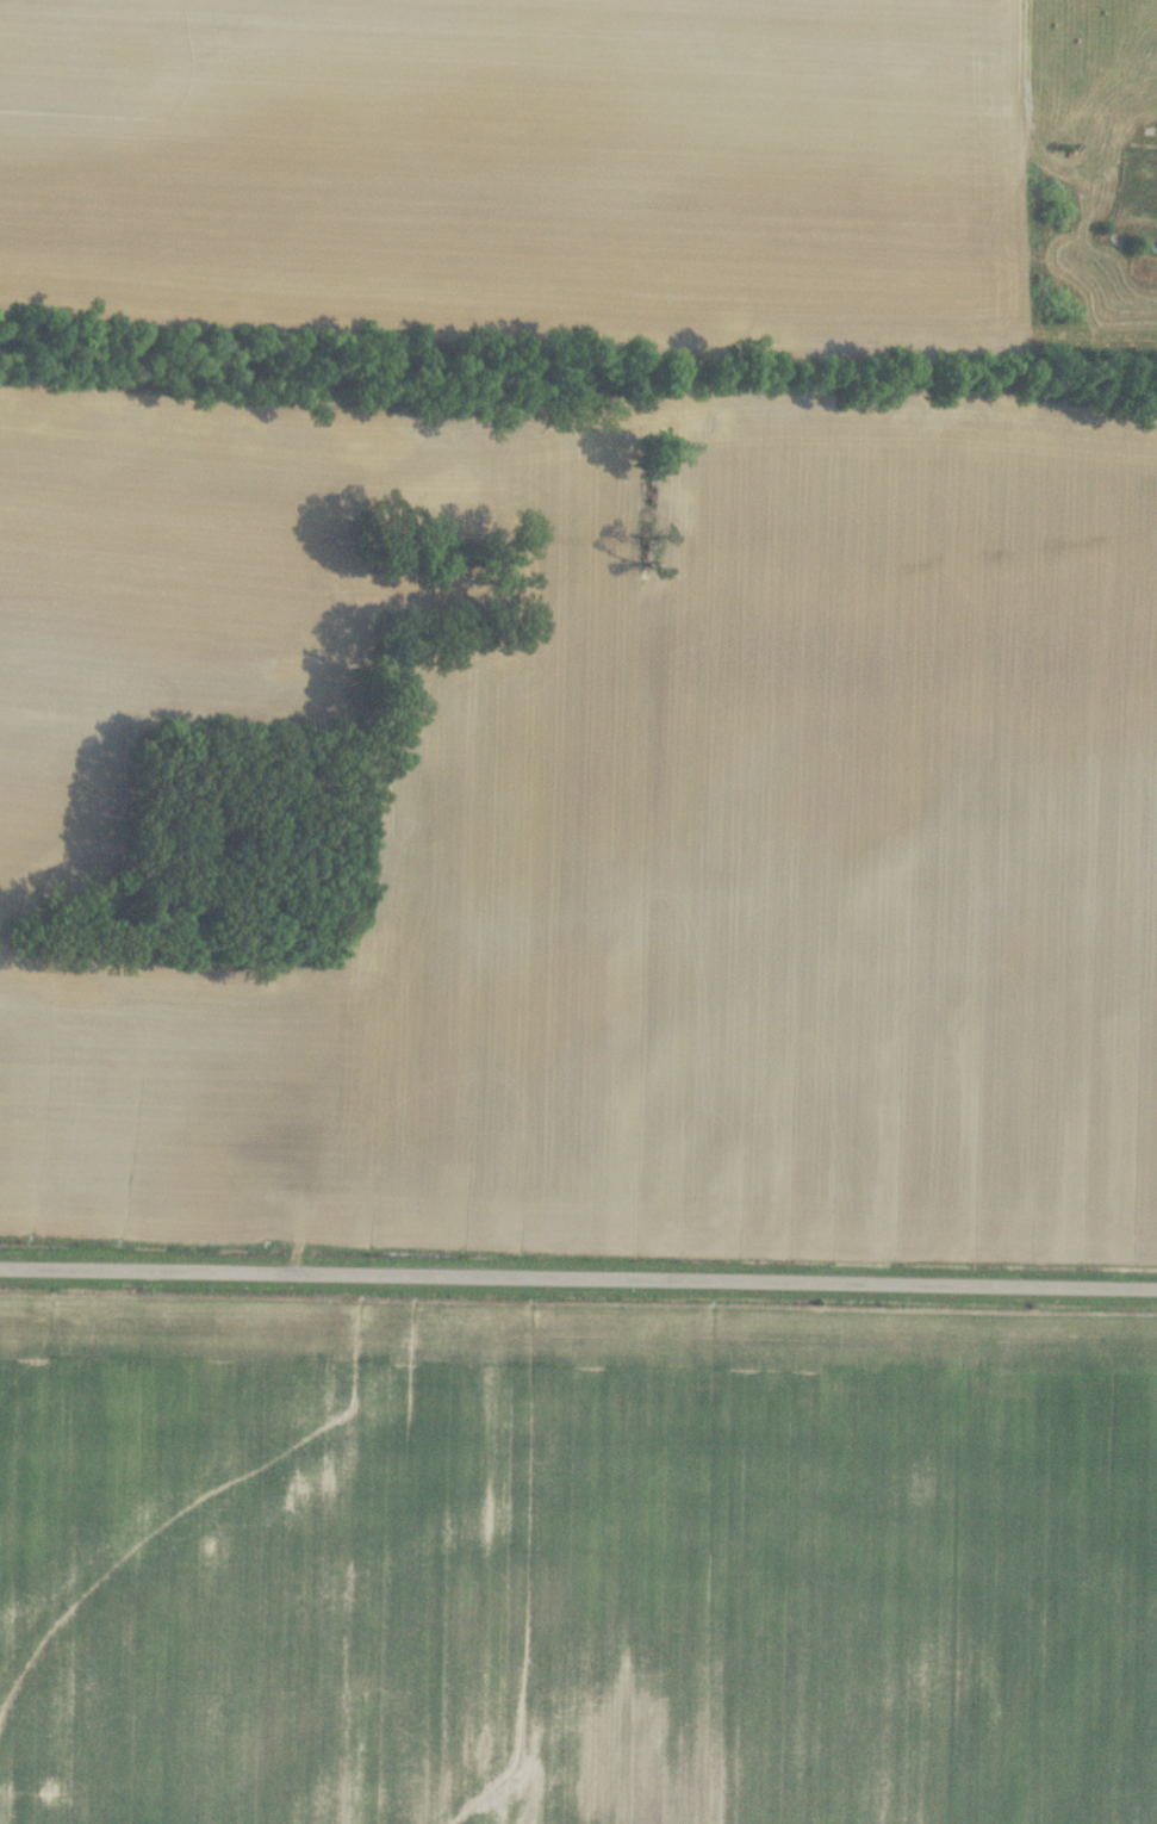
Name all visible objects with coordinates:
road: (578, 1279)

